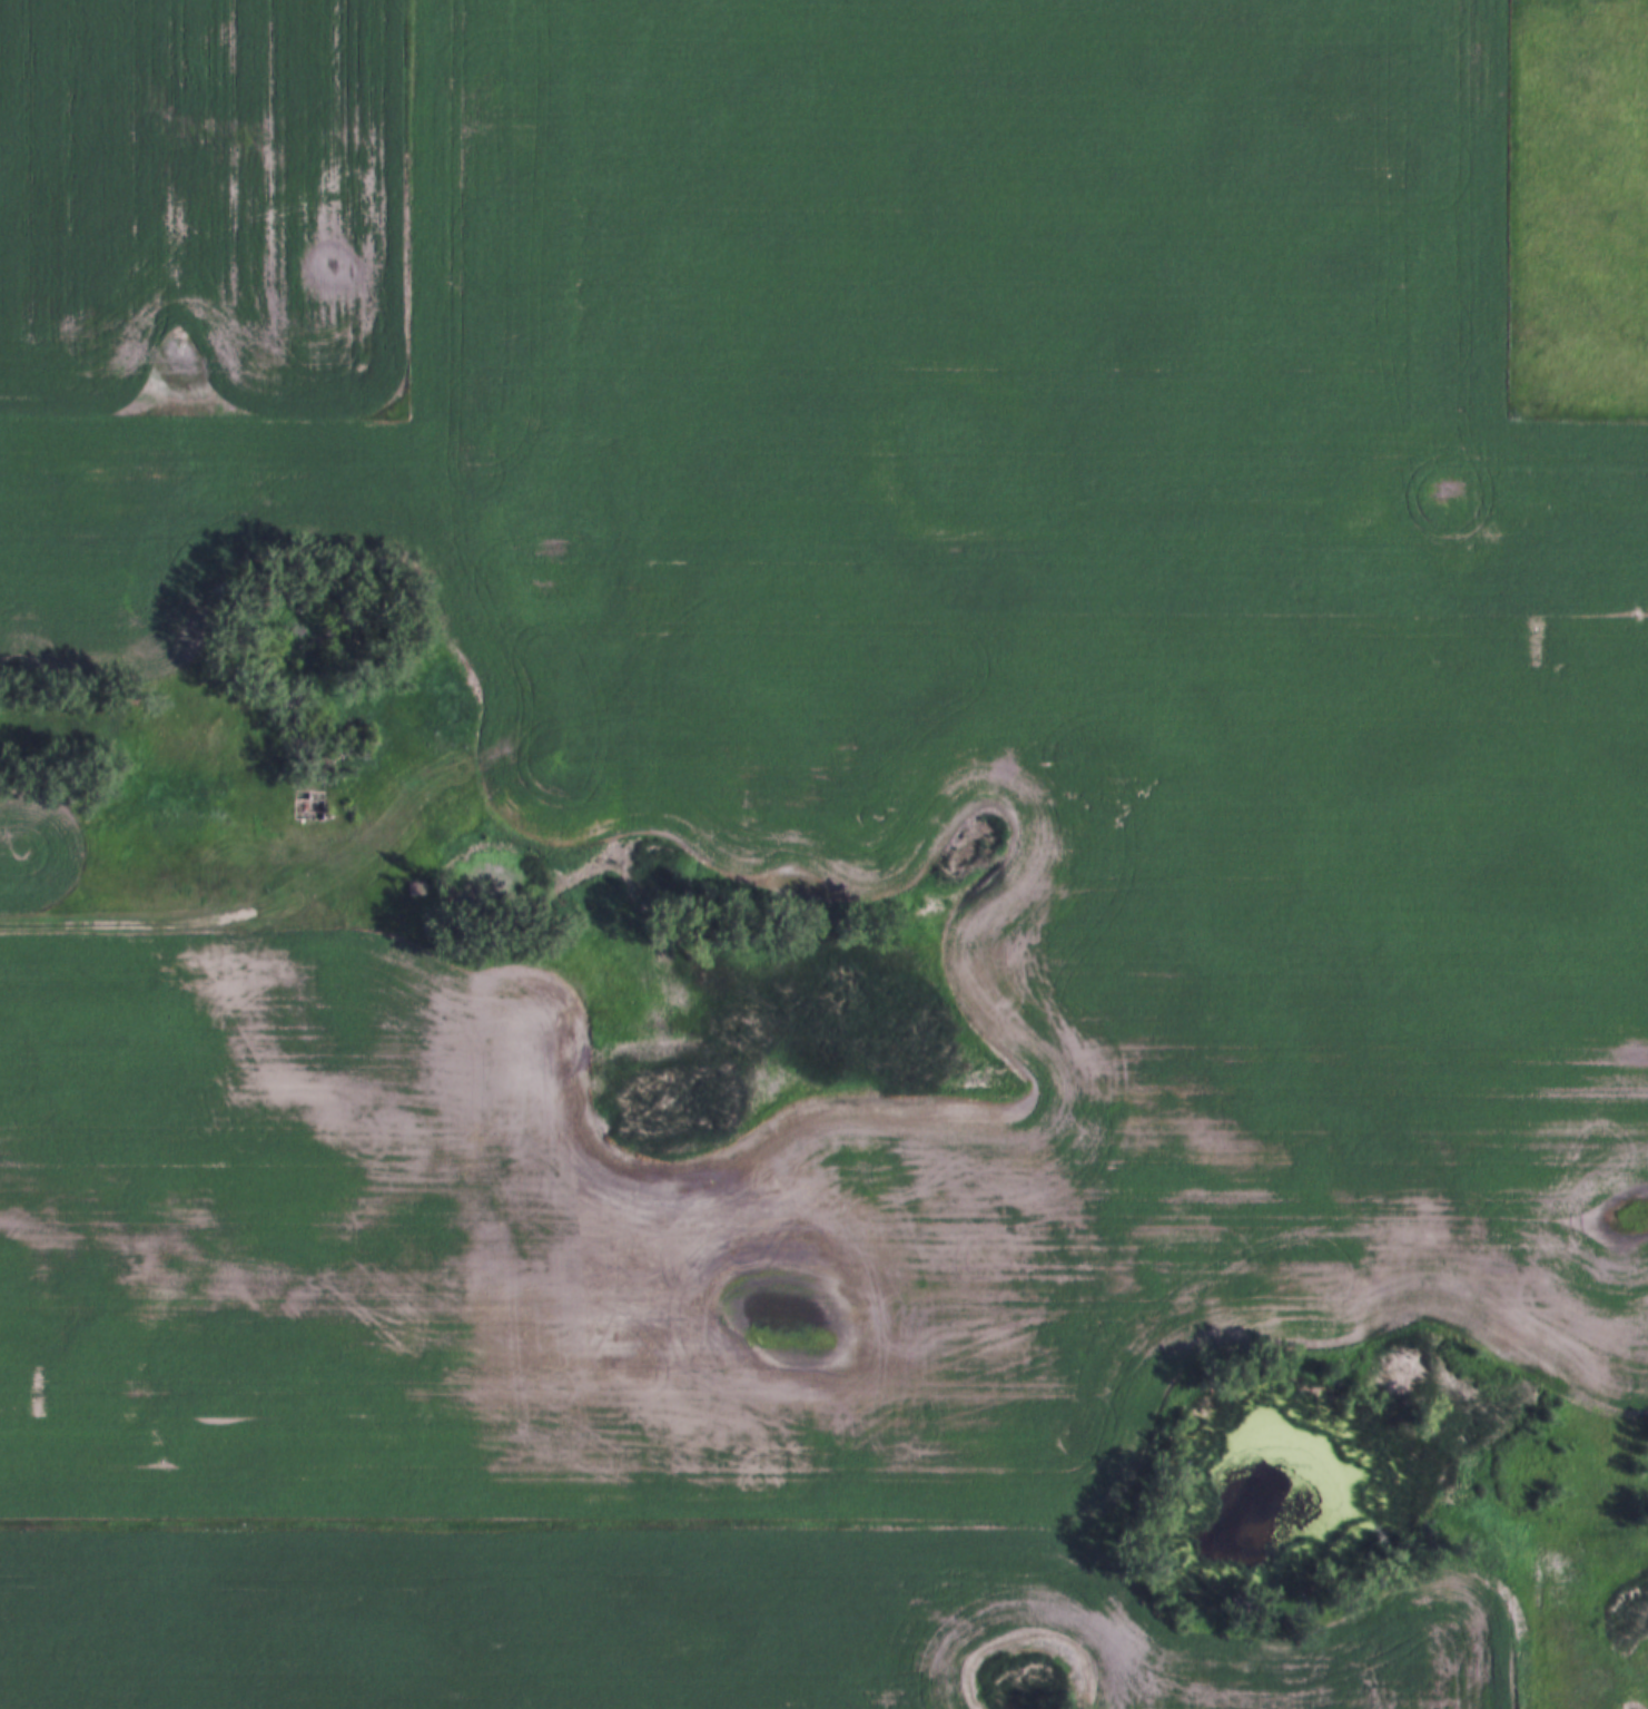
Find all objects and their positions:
road: (178, 923)

